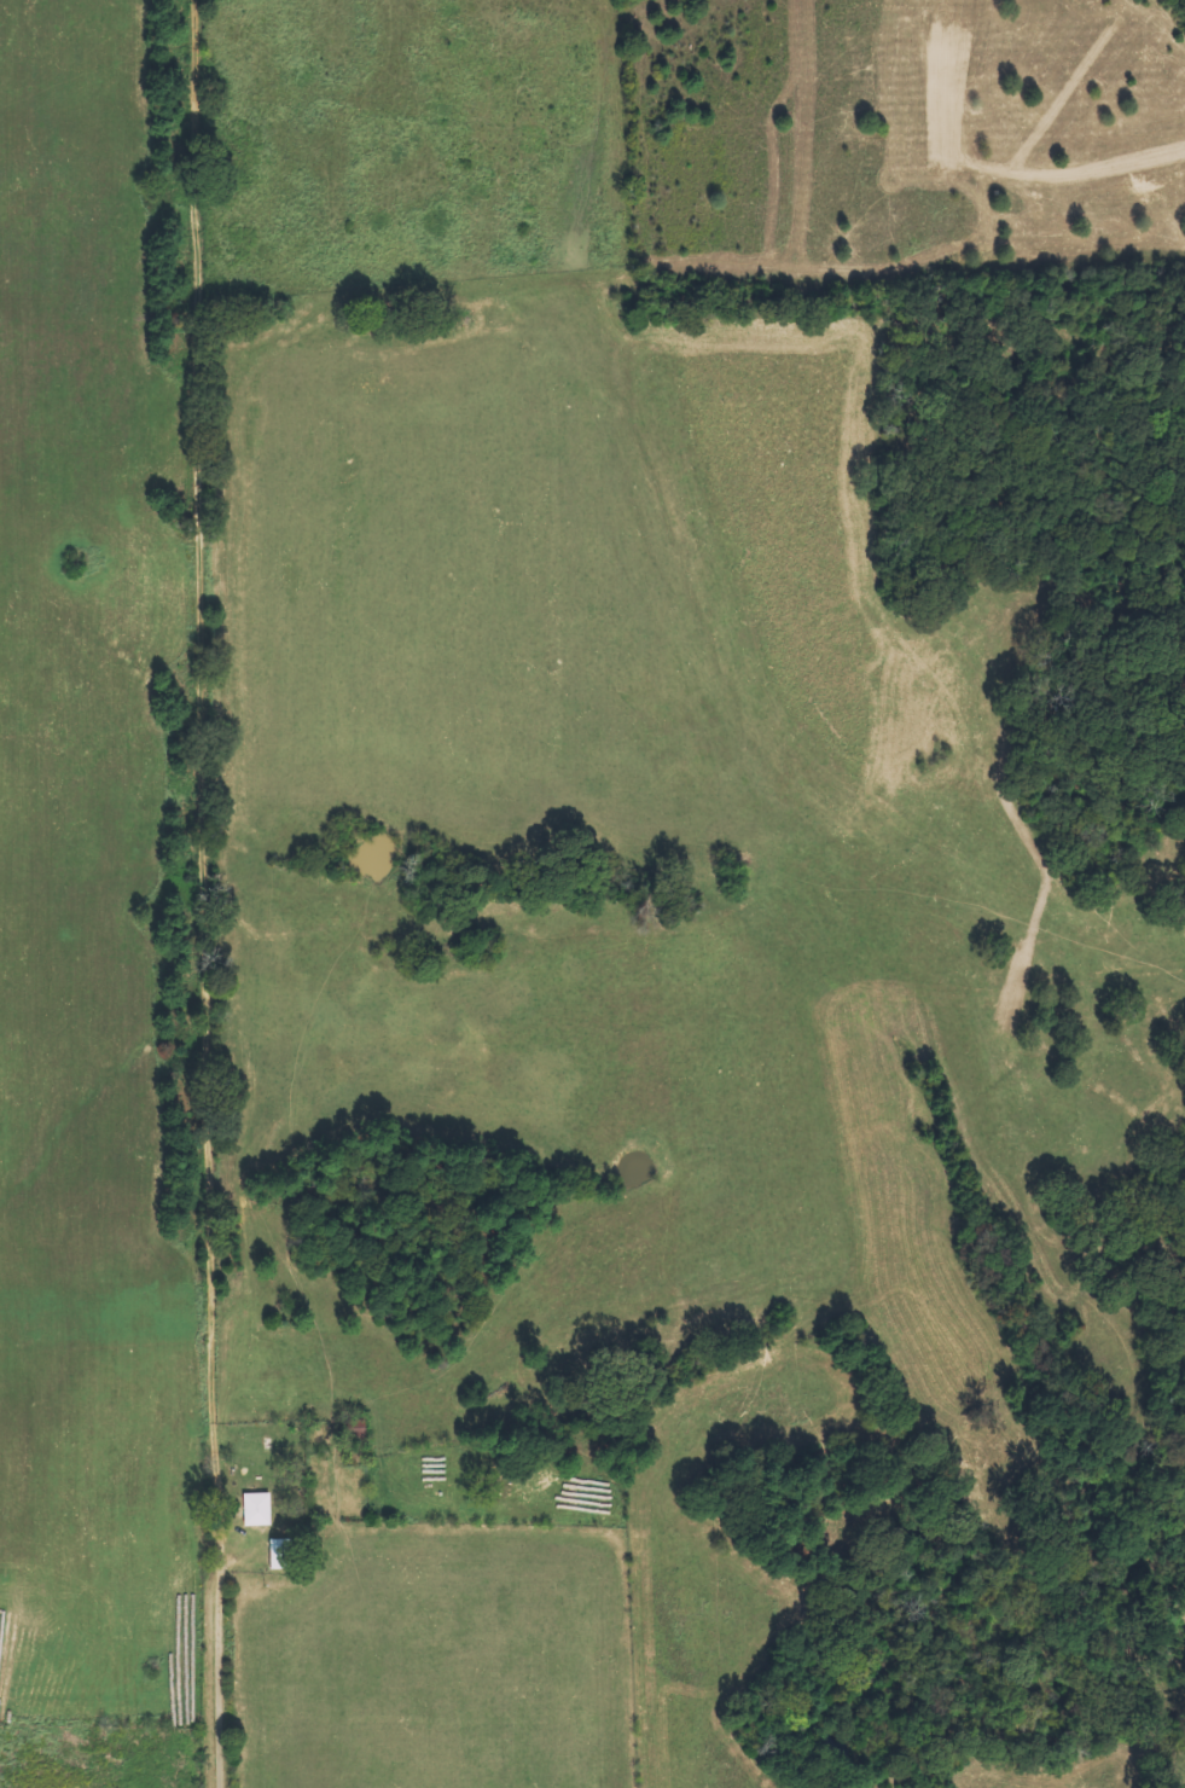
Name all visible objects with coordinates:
building: (259, 1509)
building: (281, 1554)
road: (225, 1697)

